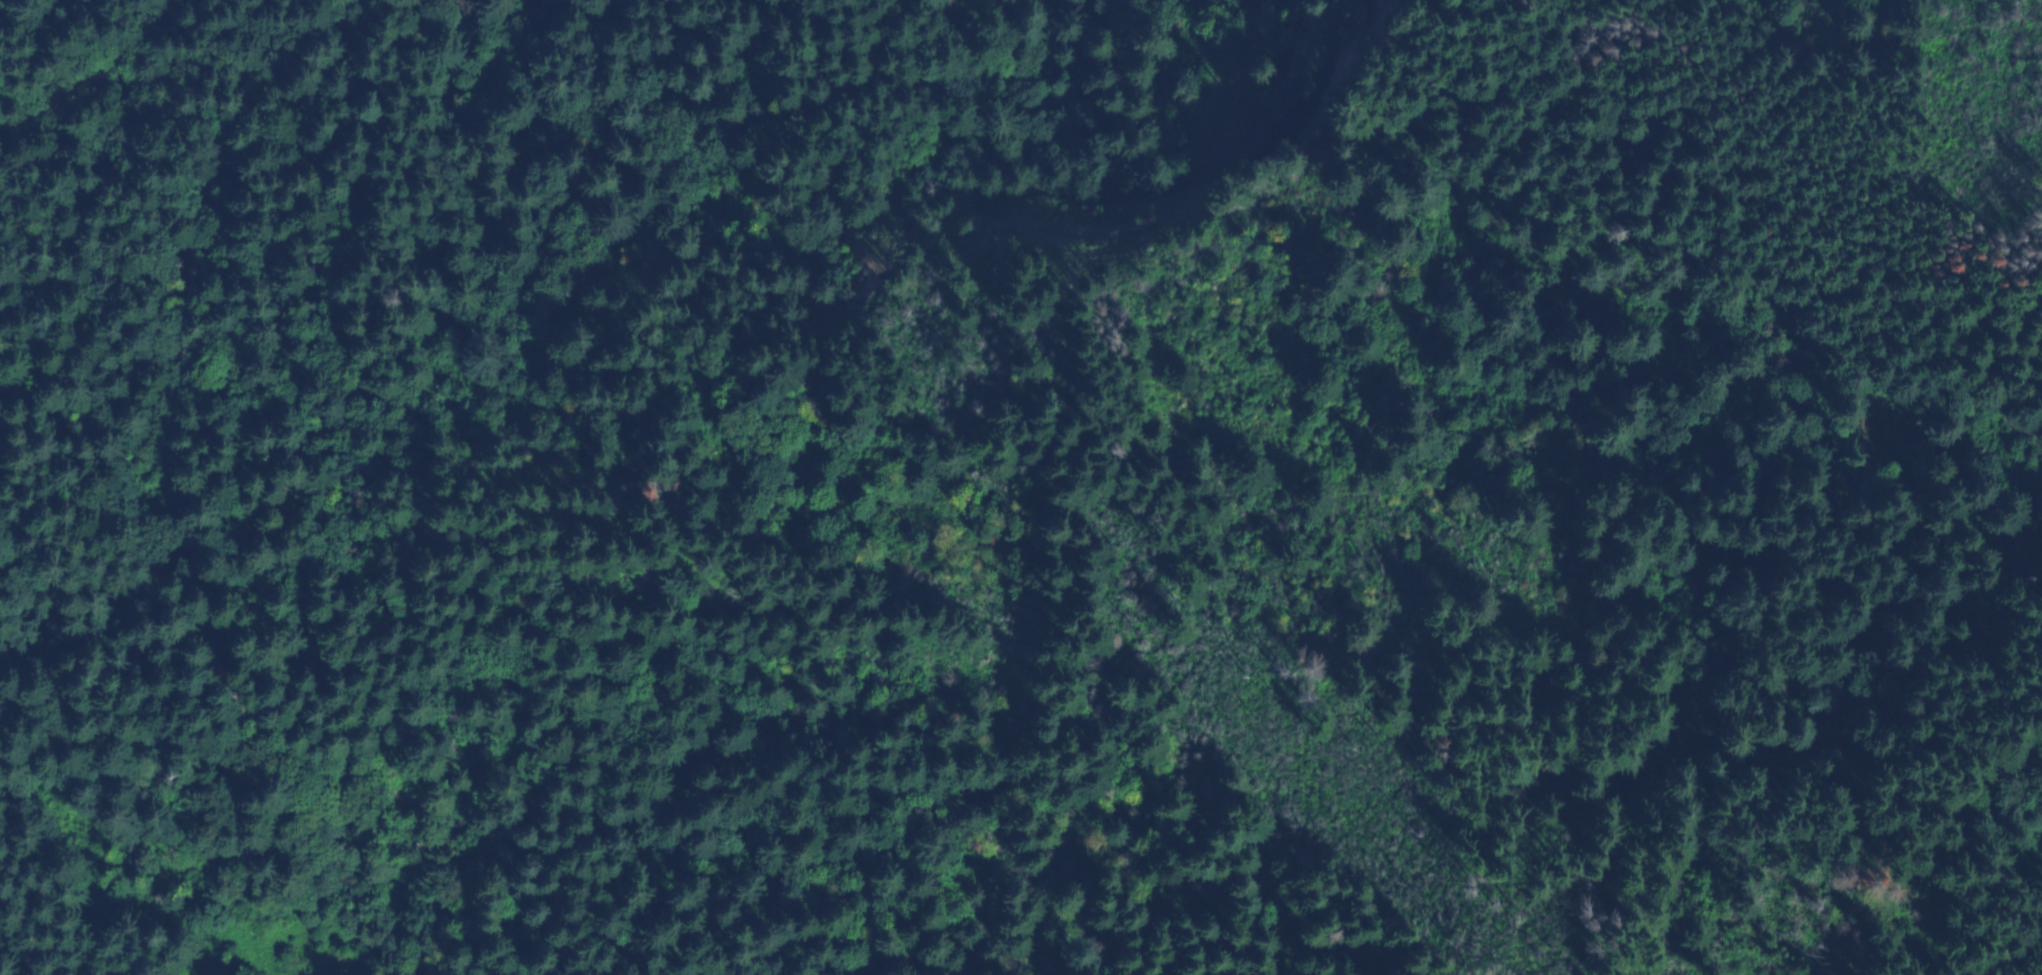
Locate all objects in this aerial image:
road: (98, 79)
road: (194, 533)

